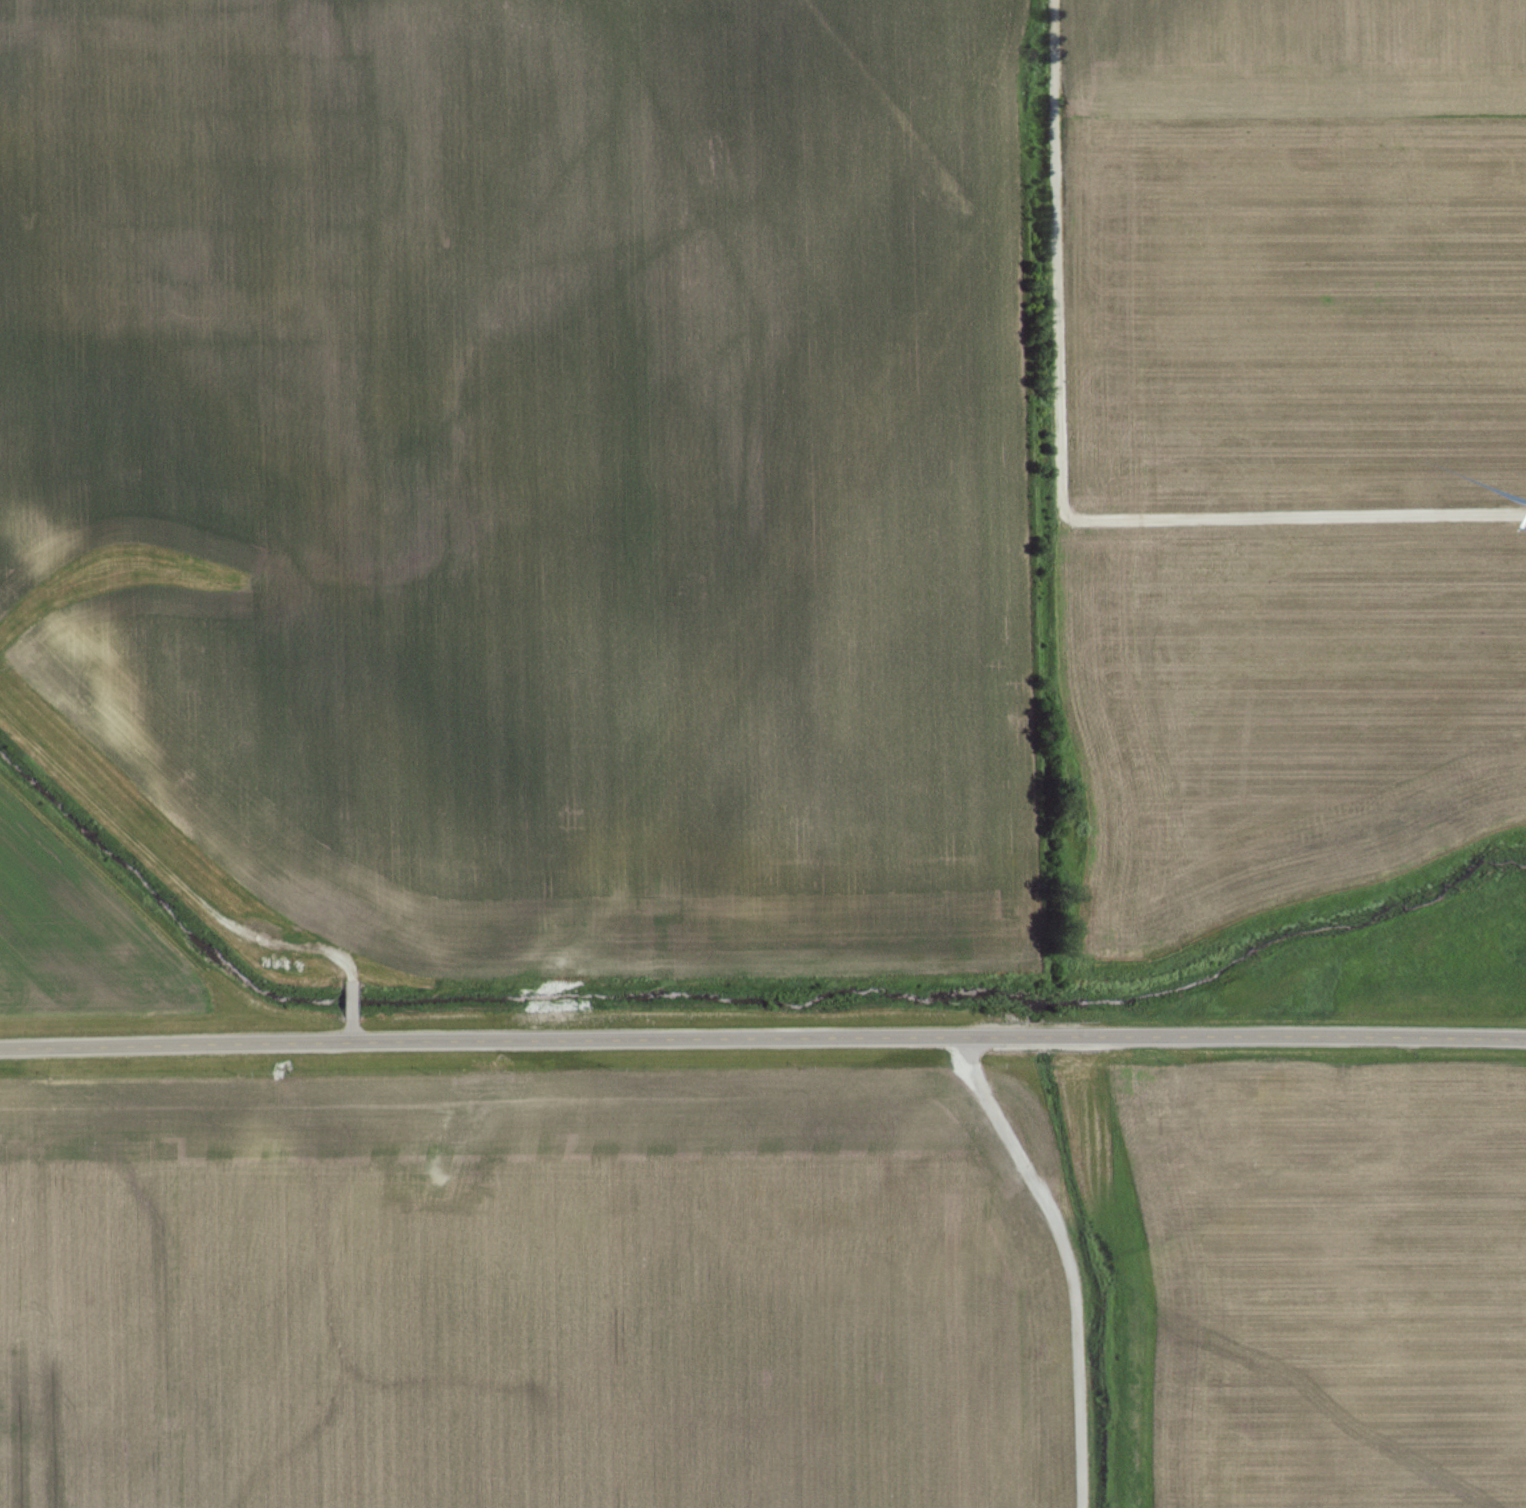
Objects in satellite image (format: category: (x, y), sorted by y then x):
road: (1062, 488)
road: (762, 1037)
road: (1069, 1260)

